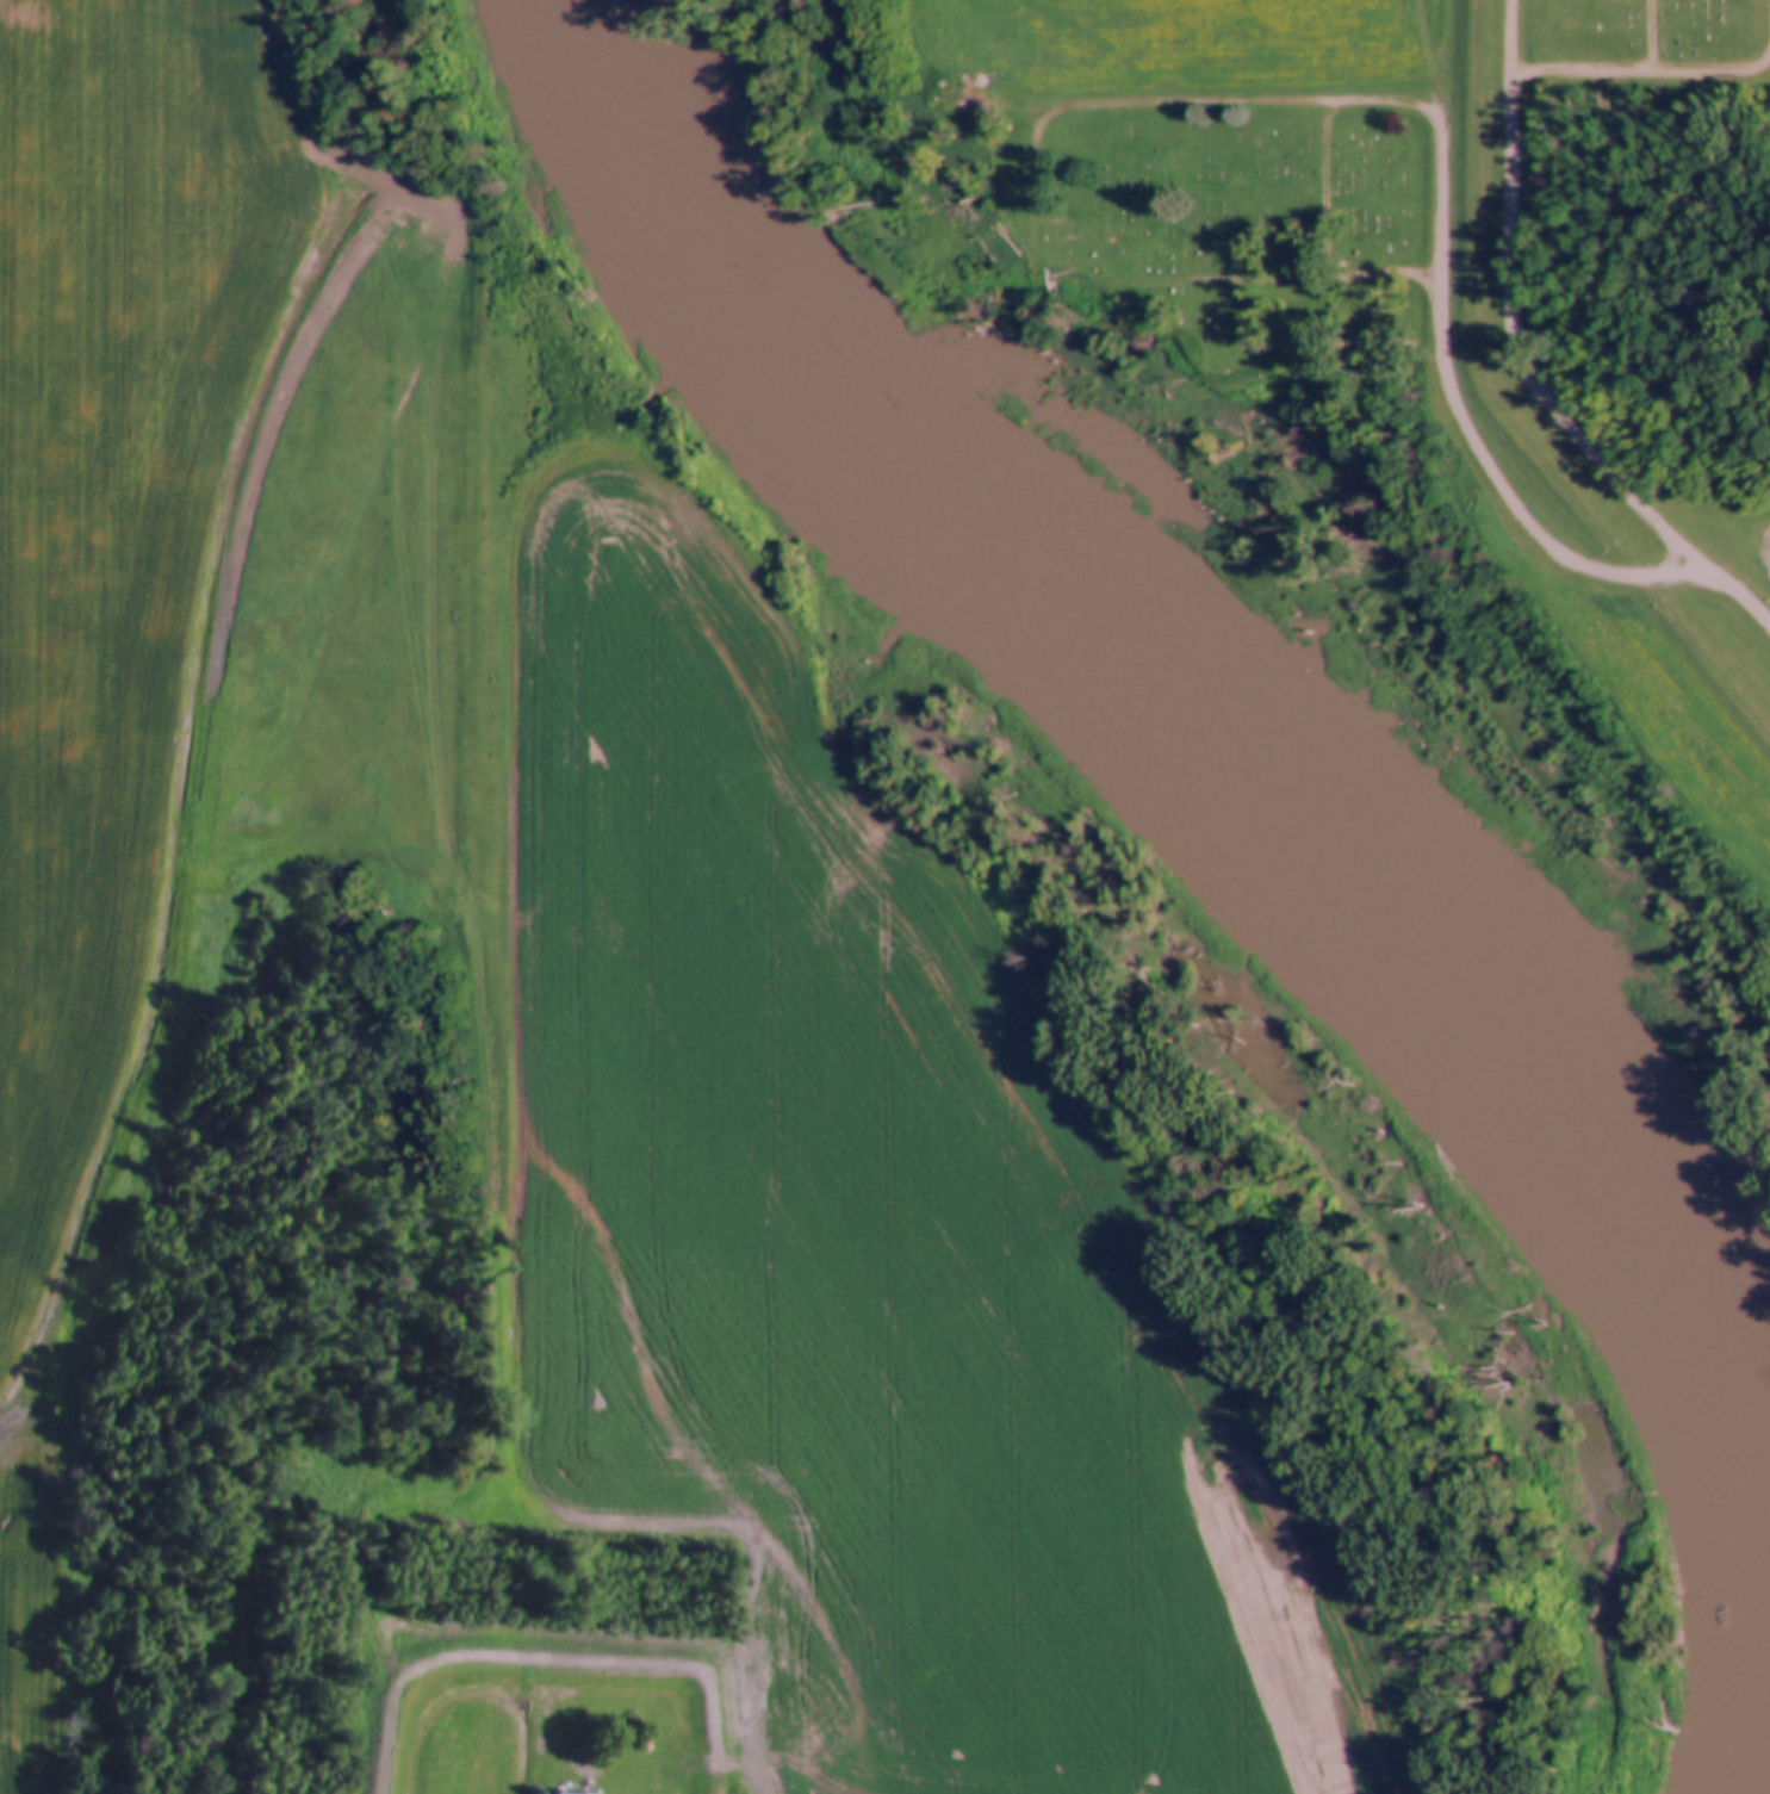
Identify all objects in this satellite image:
park: (1642, 44)
road: (1439, 176)
park: (1235, 192)
road: (1509, 375)
river: (1193, 752)

